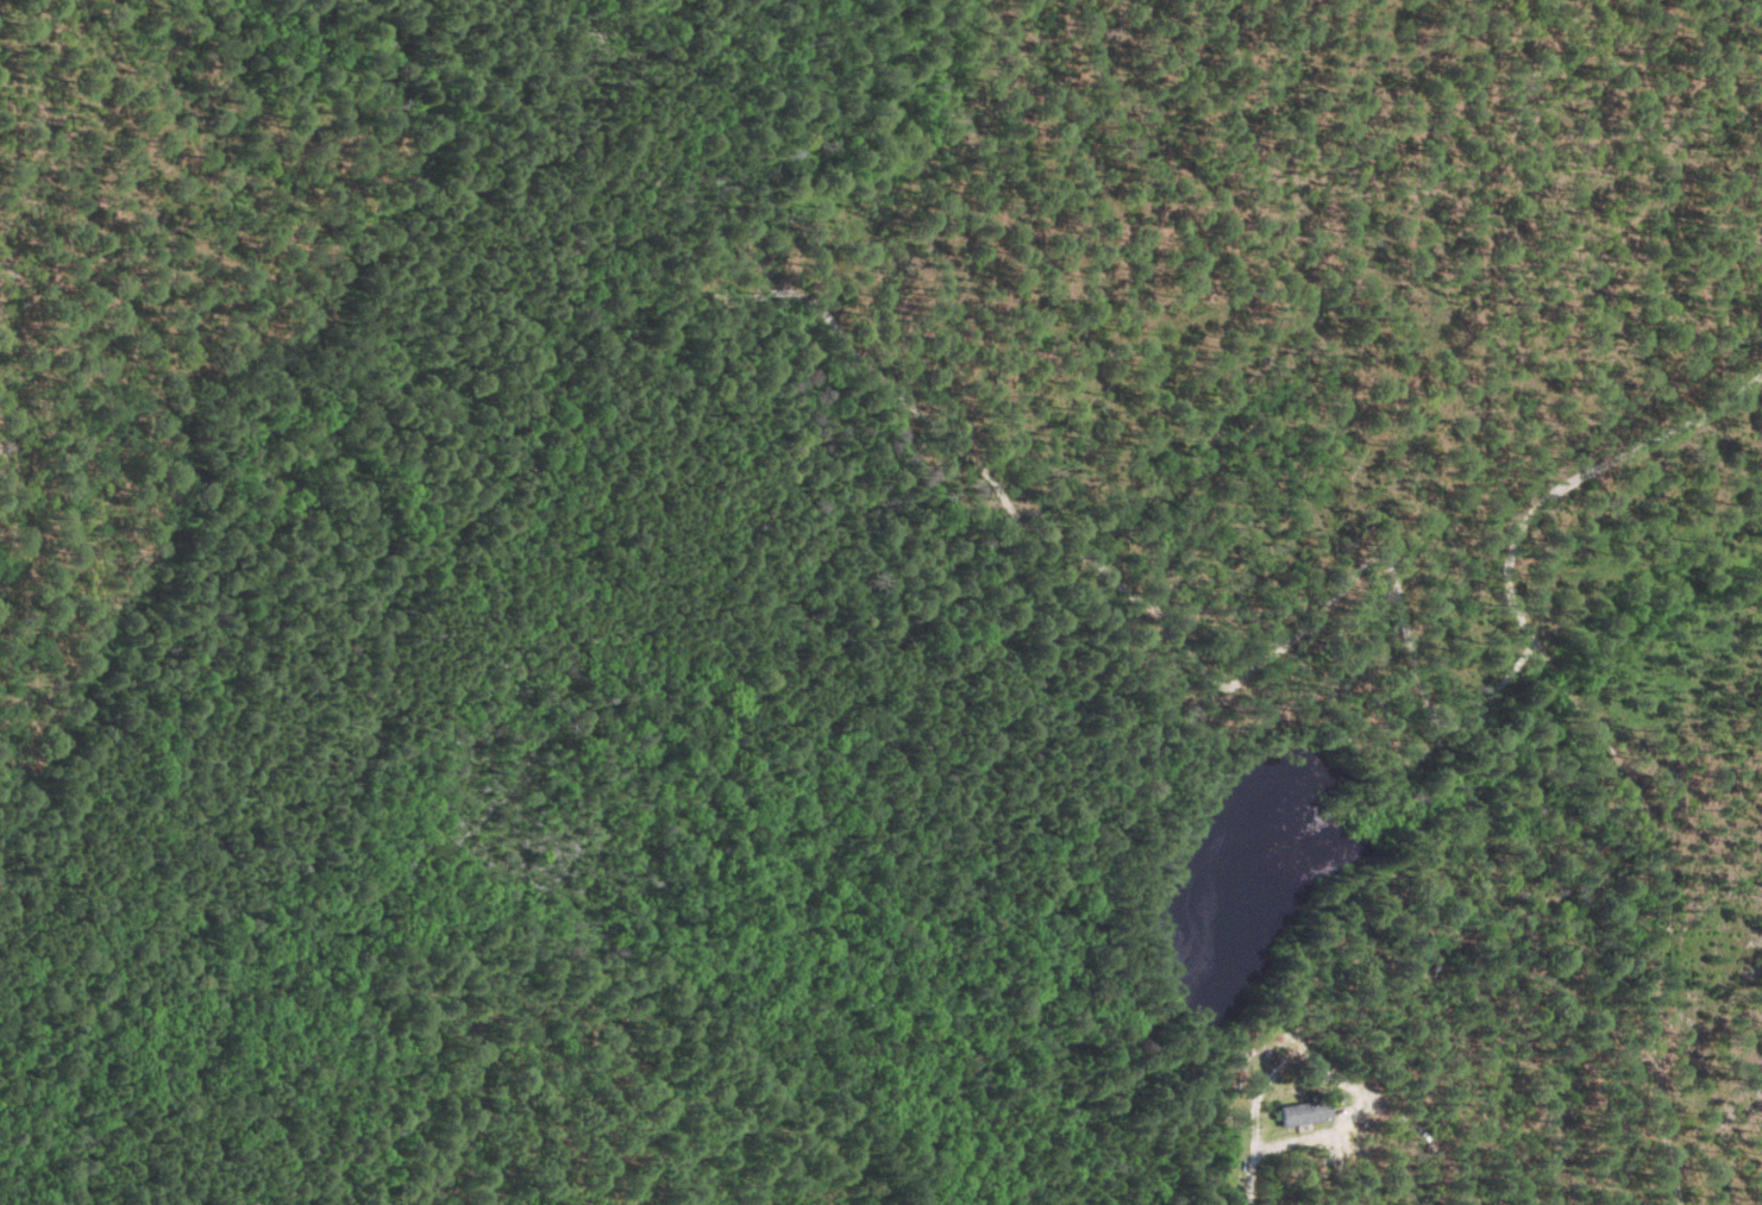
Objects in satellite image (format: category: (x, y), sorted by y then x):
building: (1303, 1110)

